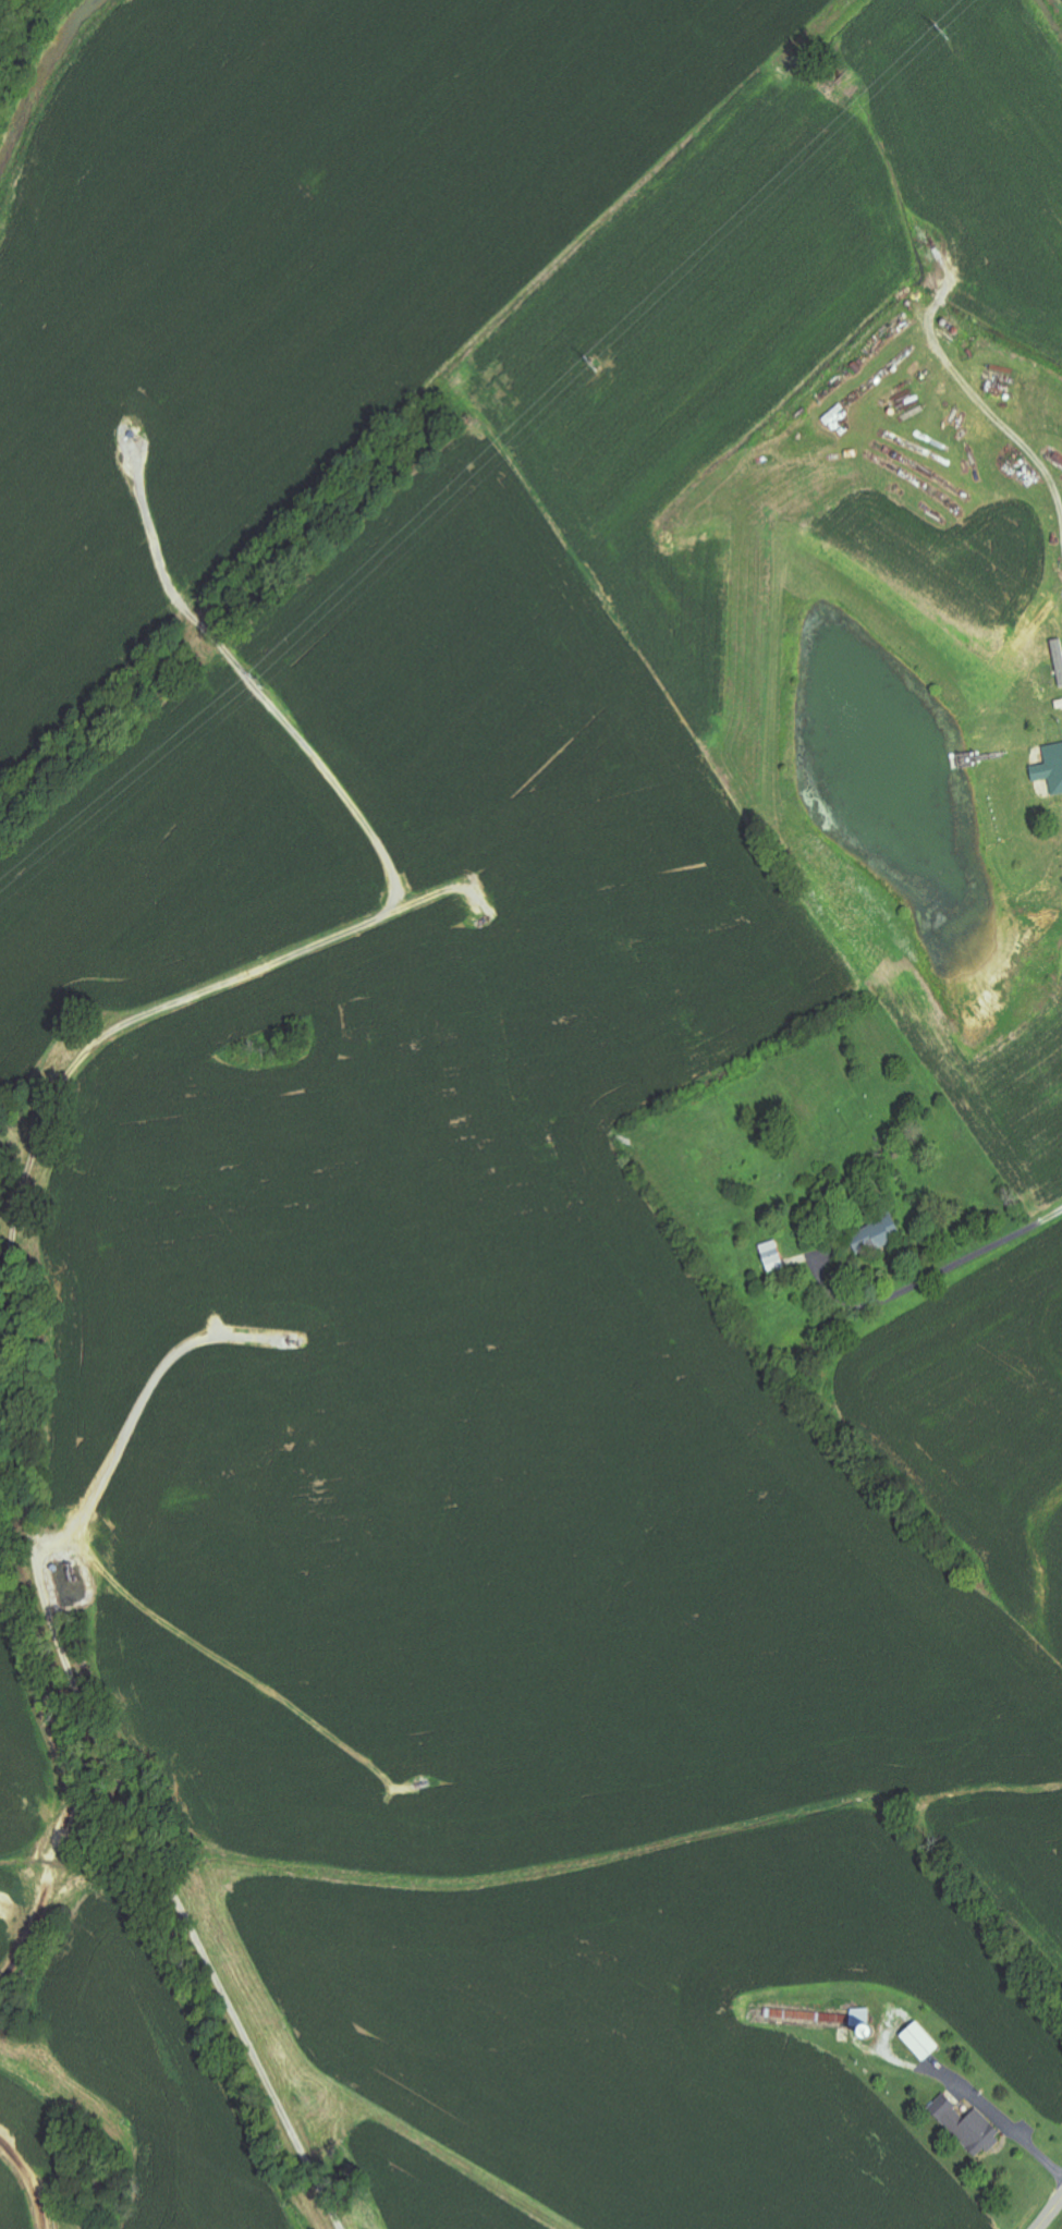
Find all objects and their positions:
building: (1051, 768)
building: (879, 1237)
building: (773, 1257)
road: (938, 1264)
building: (863, 2019)
building: (921, 2041)
building: (968, 2126)
road: (1050, 2214)

